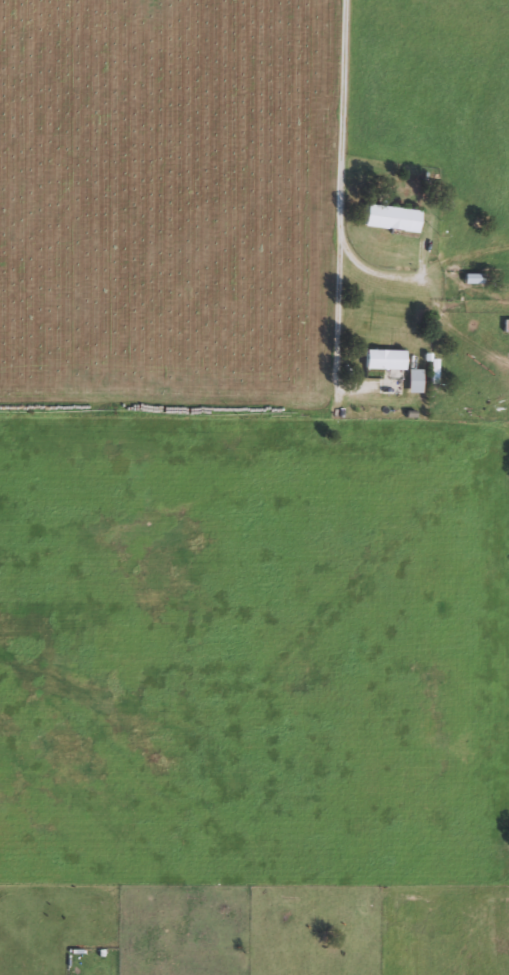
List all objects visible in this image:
road: (343, 100)
building: (388, 218)
building: (469, 278)
building: (504, 326)
building: (379, 359)
building: (410, 381)

